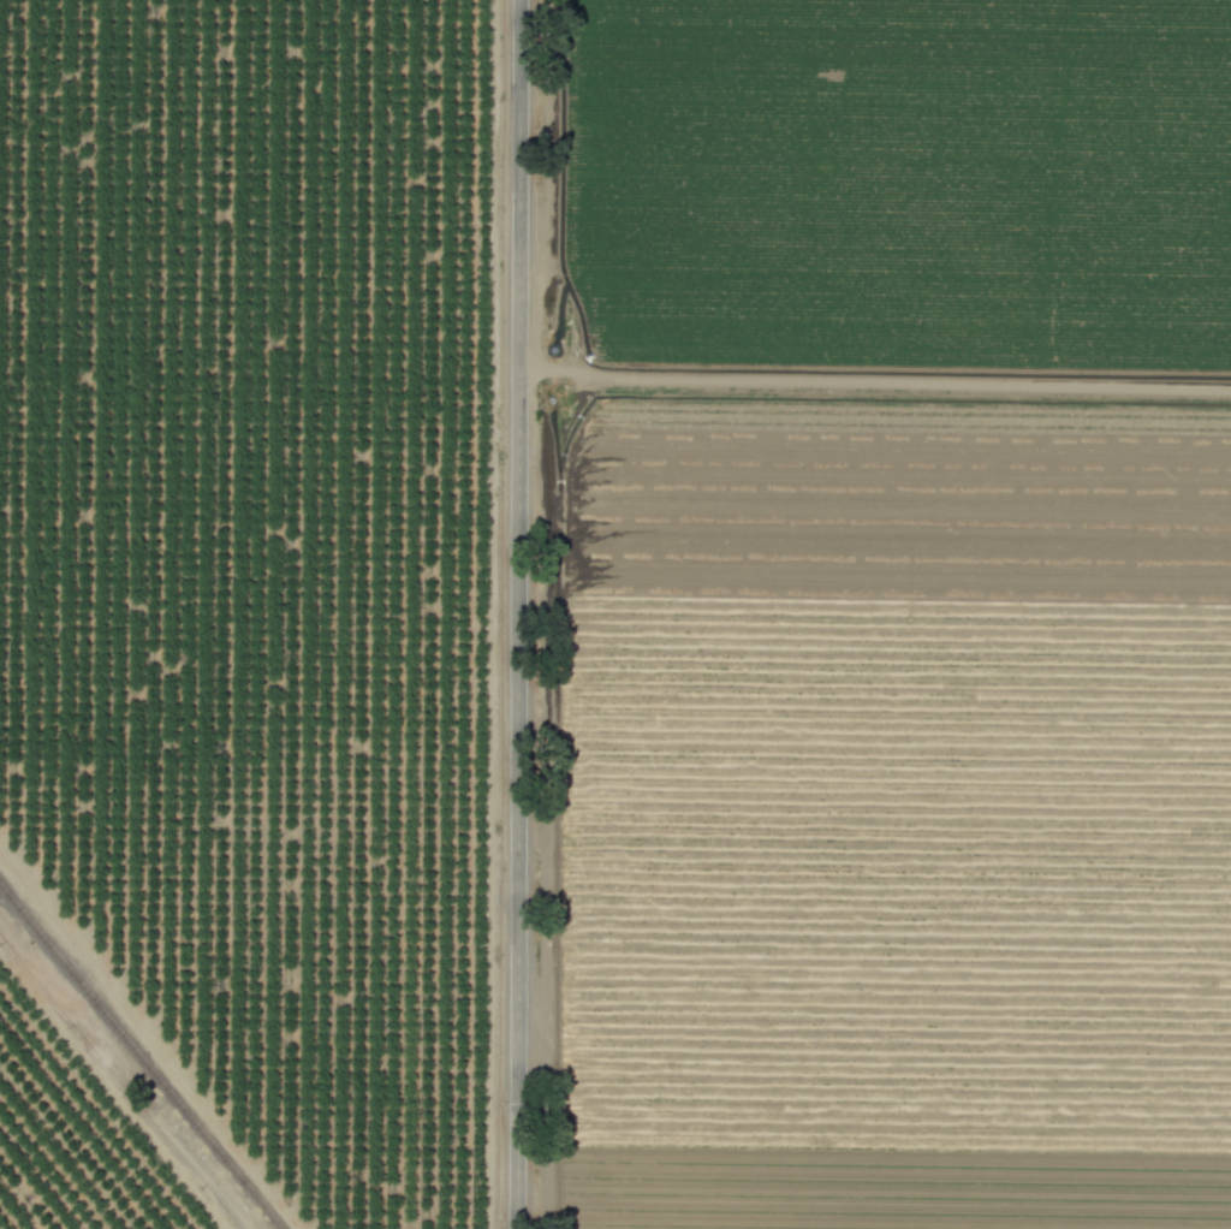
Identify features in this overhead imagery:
road: (517, 614)
railway: (139, 1057)

